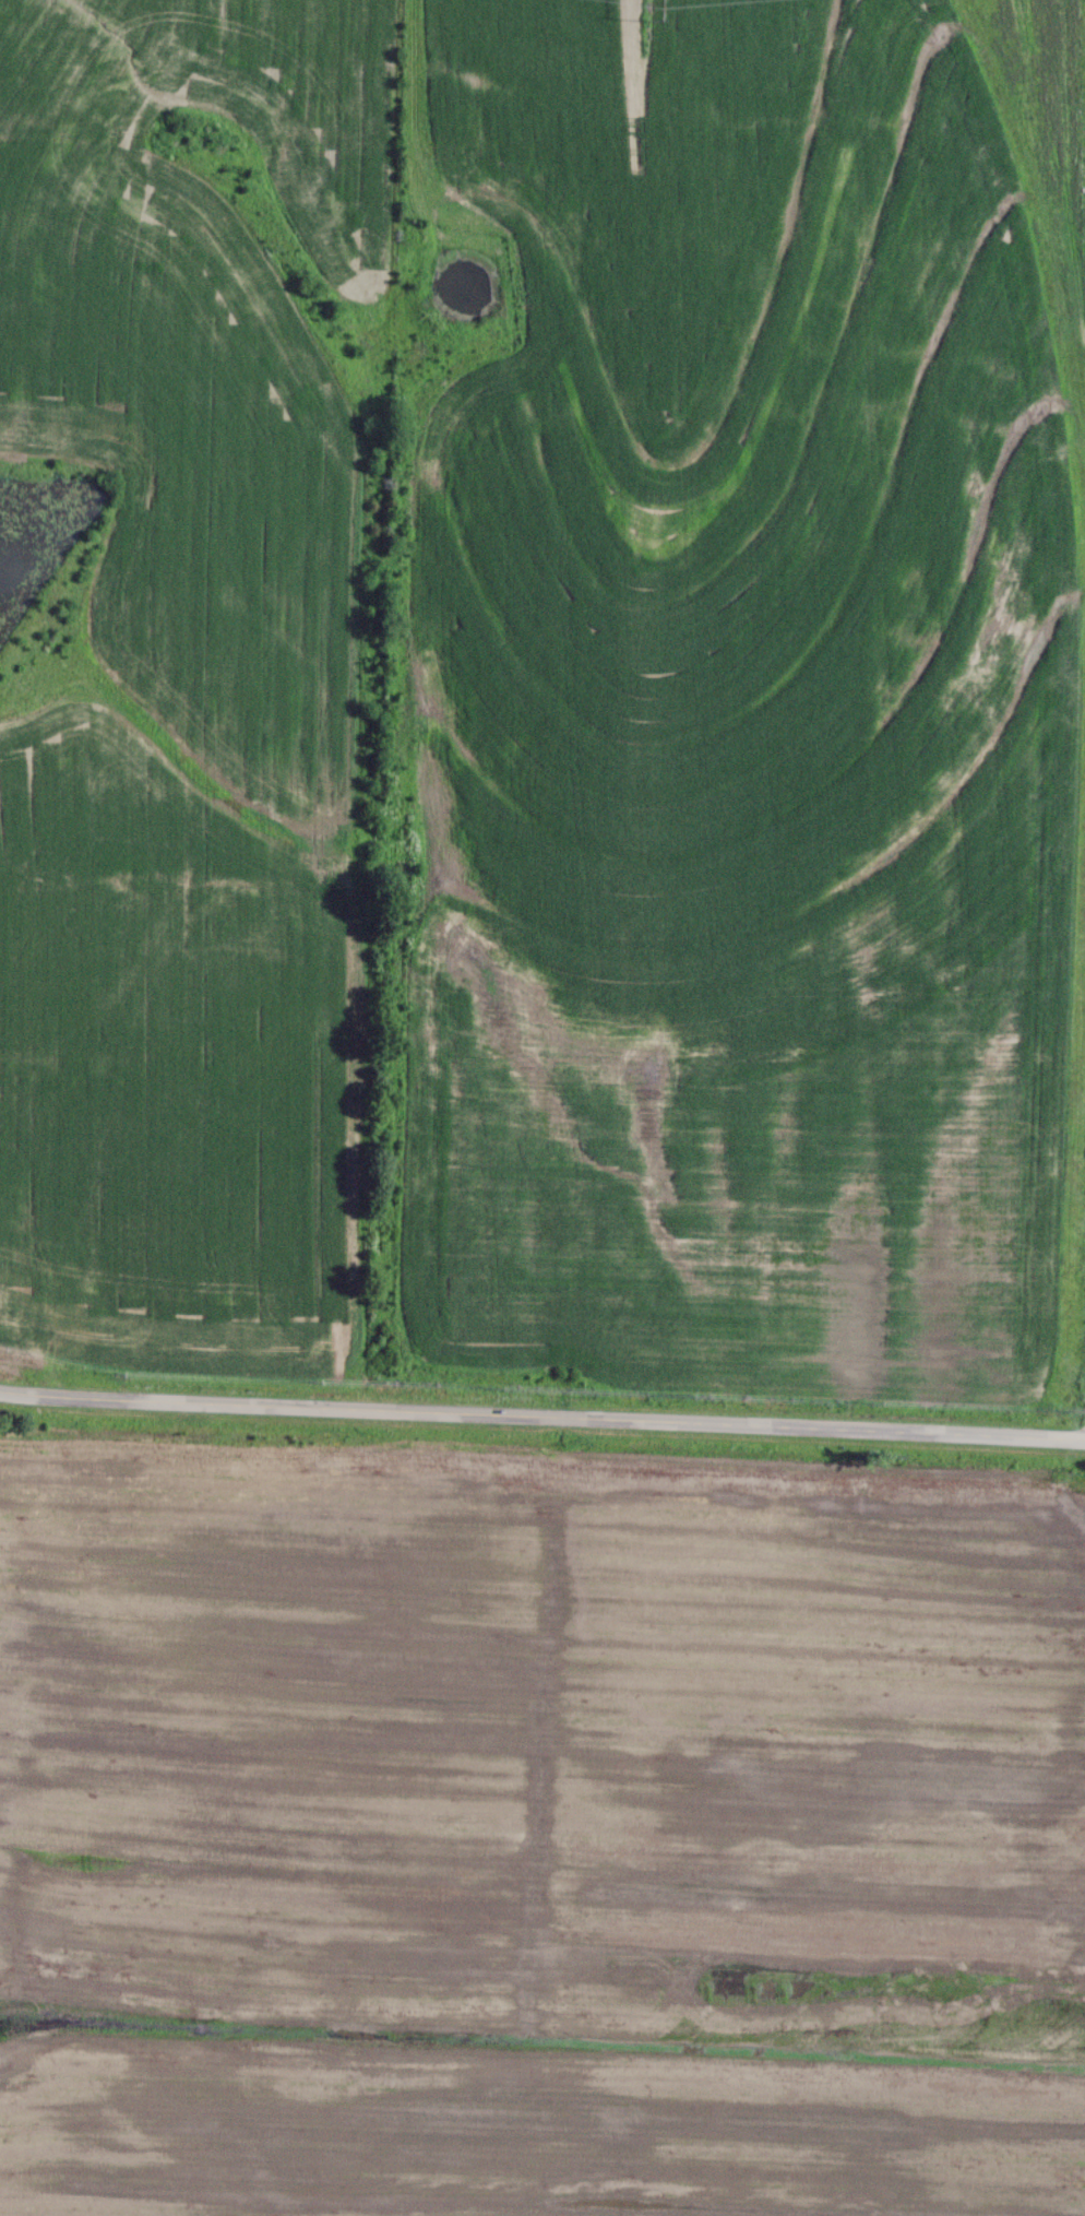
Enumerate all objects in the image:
road: (541, 1420)

